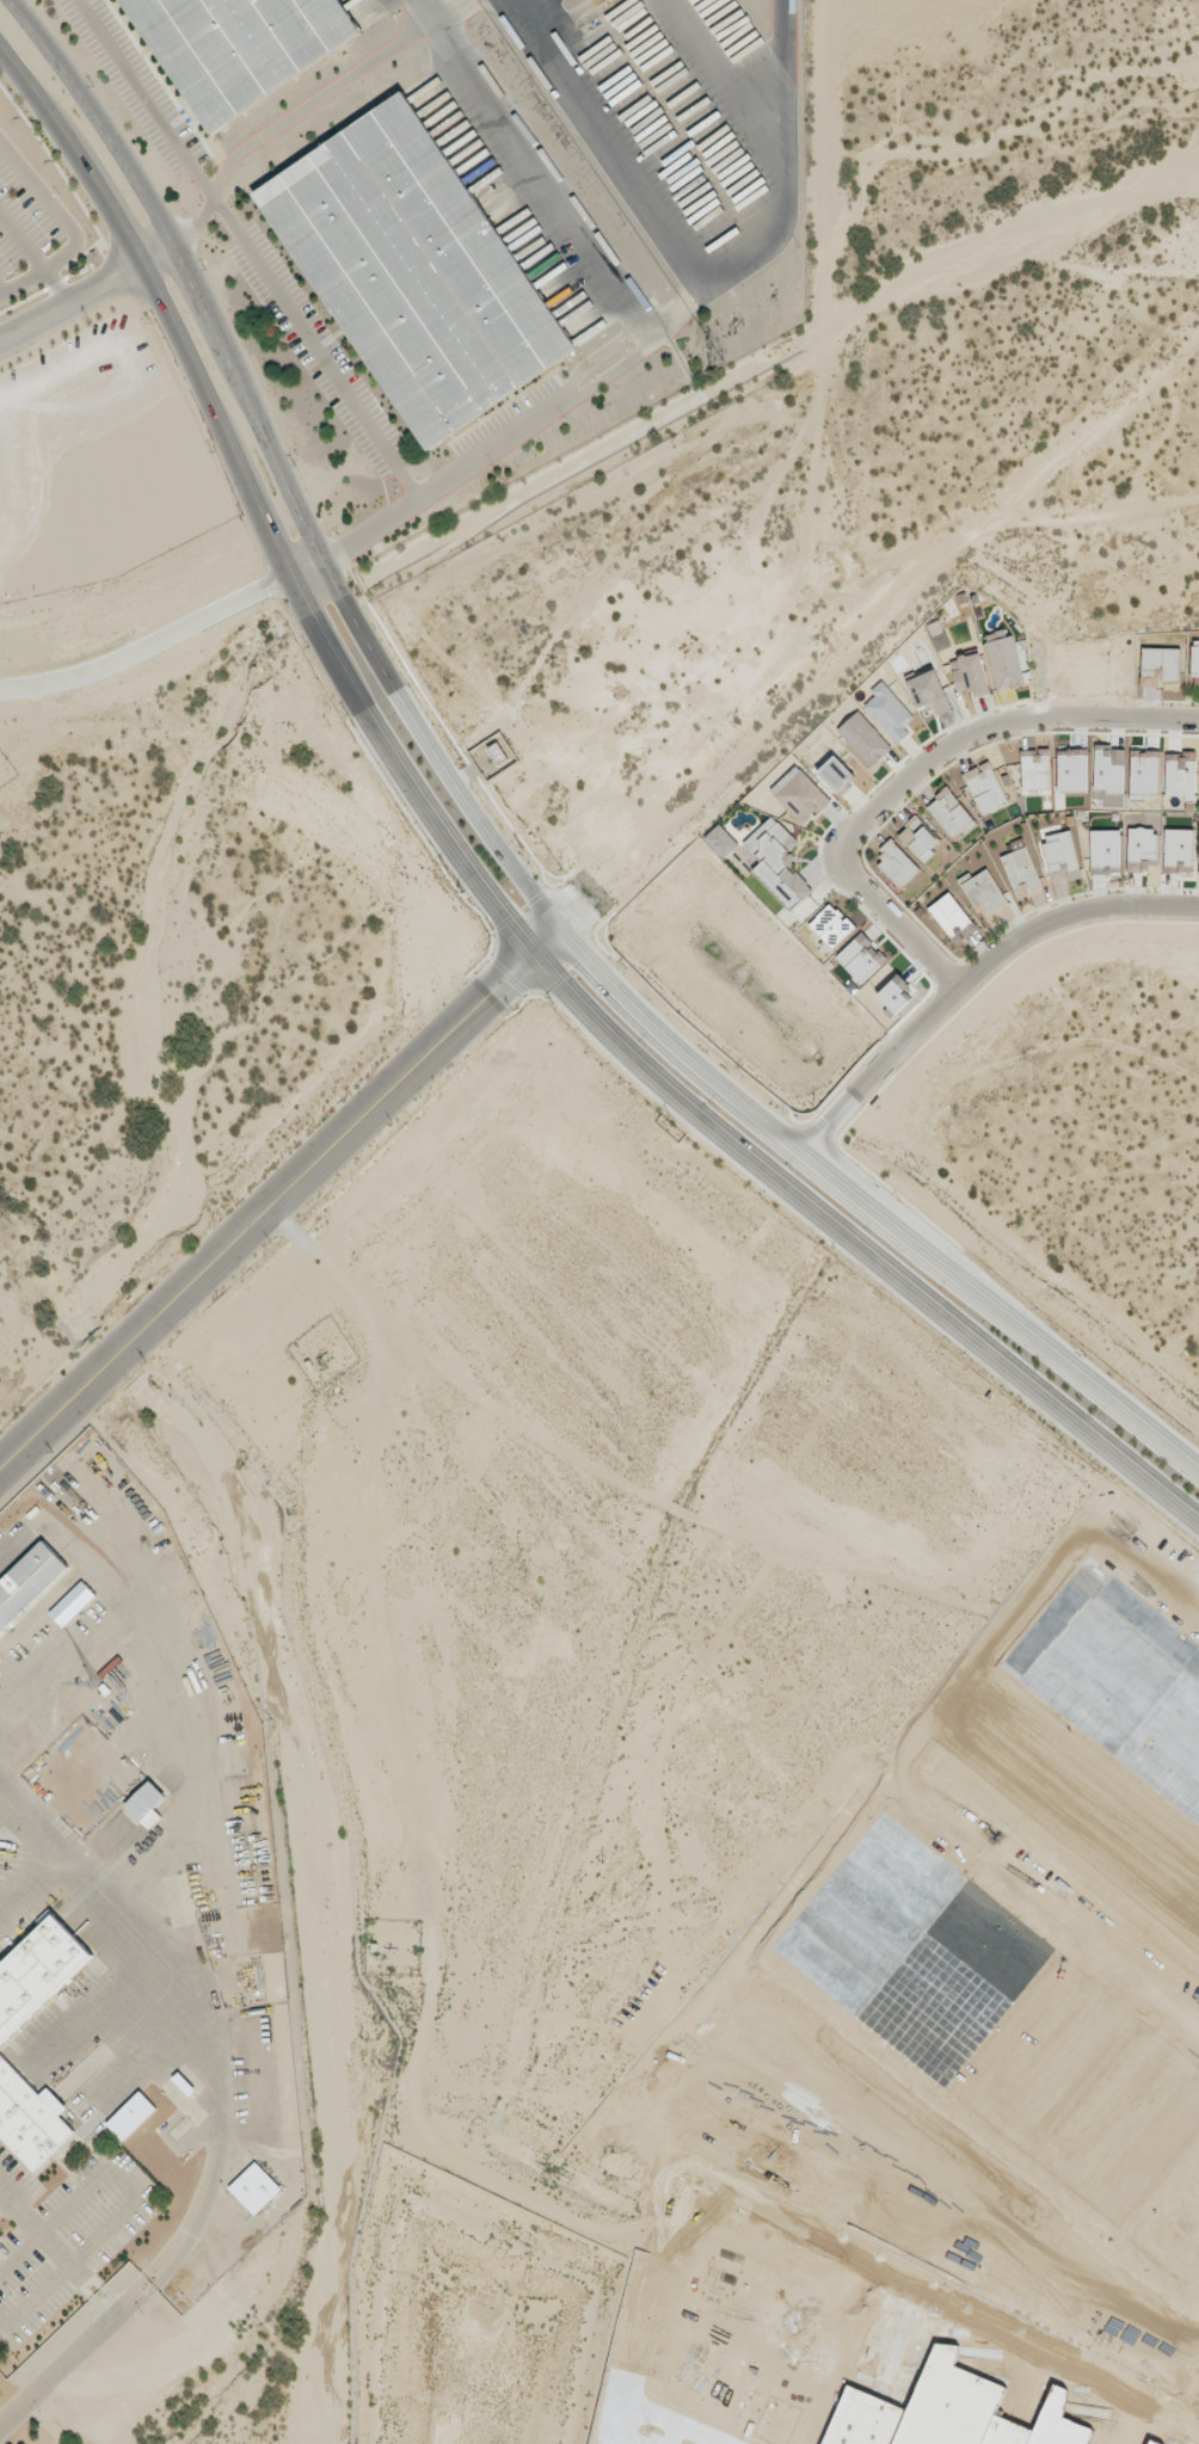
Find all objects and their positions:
building: (605, 0)
building: (595, 1)
building: (242, 47)
road: (285, 121)
road: (527, 170)
road: (781, 199)
road: (69, 227)
road: (250, 248)
building: (419, 273)
road: (57, 287)
road: (86, 294)
road: (481, 454)
road: (307, 574)
building: (1194, 660)
building: (1004, 663)
building: (1158, 665)
building: (970, 675)
building: (929, 691)
road: (383, 707)
building: (889, 712)
building: (863, 738)
building: (1034, 769)
road: (920, 770)
building: (836, 774)
building: (985, 787)
building: (799, 795)
building: (949, 813)
road: (484, 829)
building: (918, 838)
building: (721, 841)
building: (1142, 848)
building: (1178, 850)
building: (1105, 851)
building: (1059, 855)
building: (777, 862)
building: (897, 863)
building: (1020, 870)
road: (475, 884)
building: (983, 892)
building: (952, 917)
building: (831, 925)
building: (861, 958)
road: (973, 973)
building: (894, 993)
road: (281, 1199)
building: (29, 1582)
building: (147, 1804)
building: (37, 1972)
building: (131, 2116)
building: (29, 2118)
building: (254, 2188)

